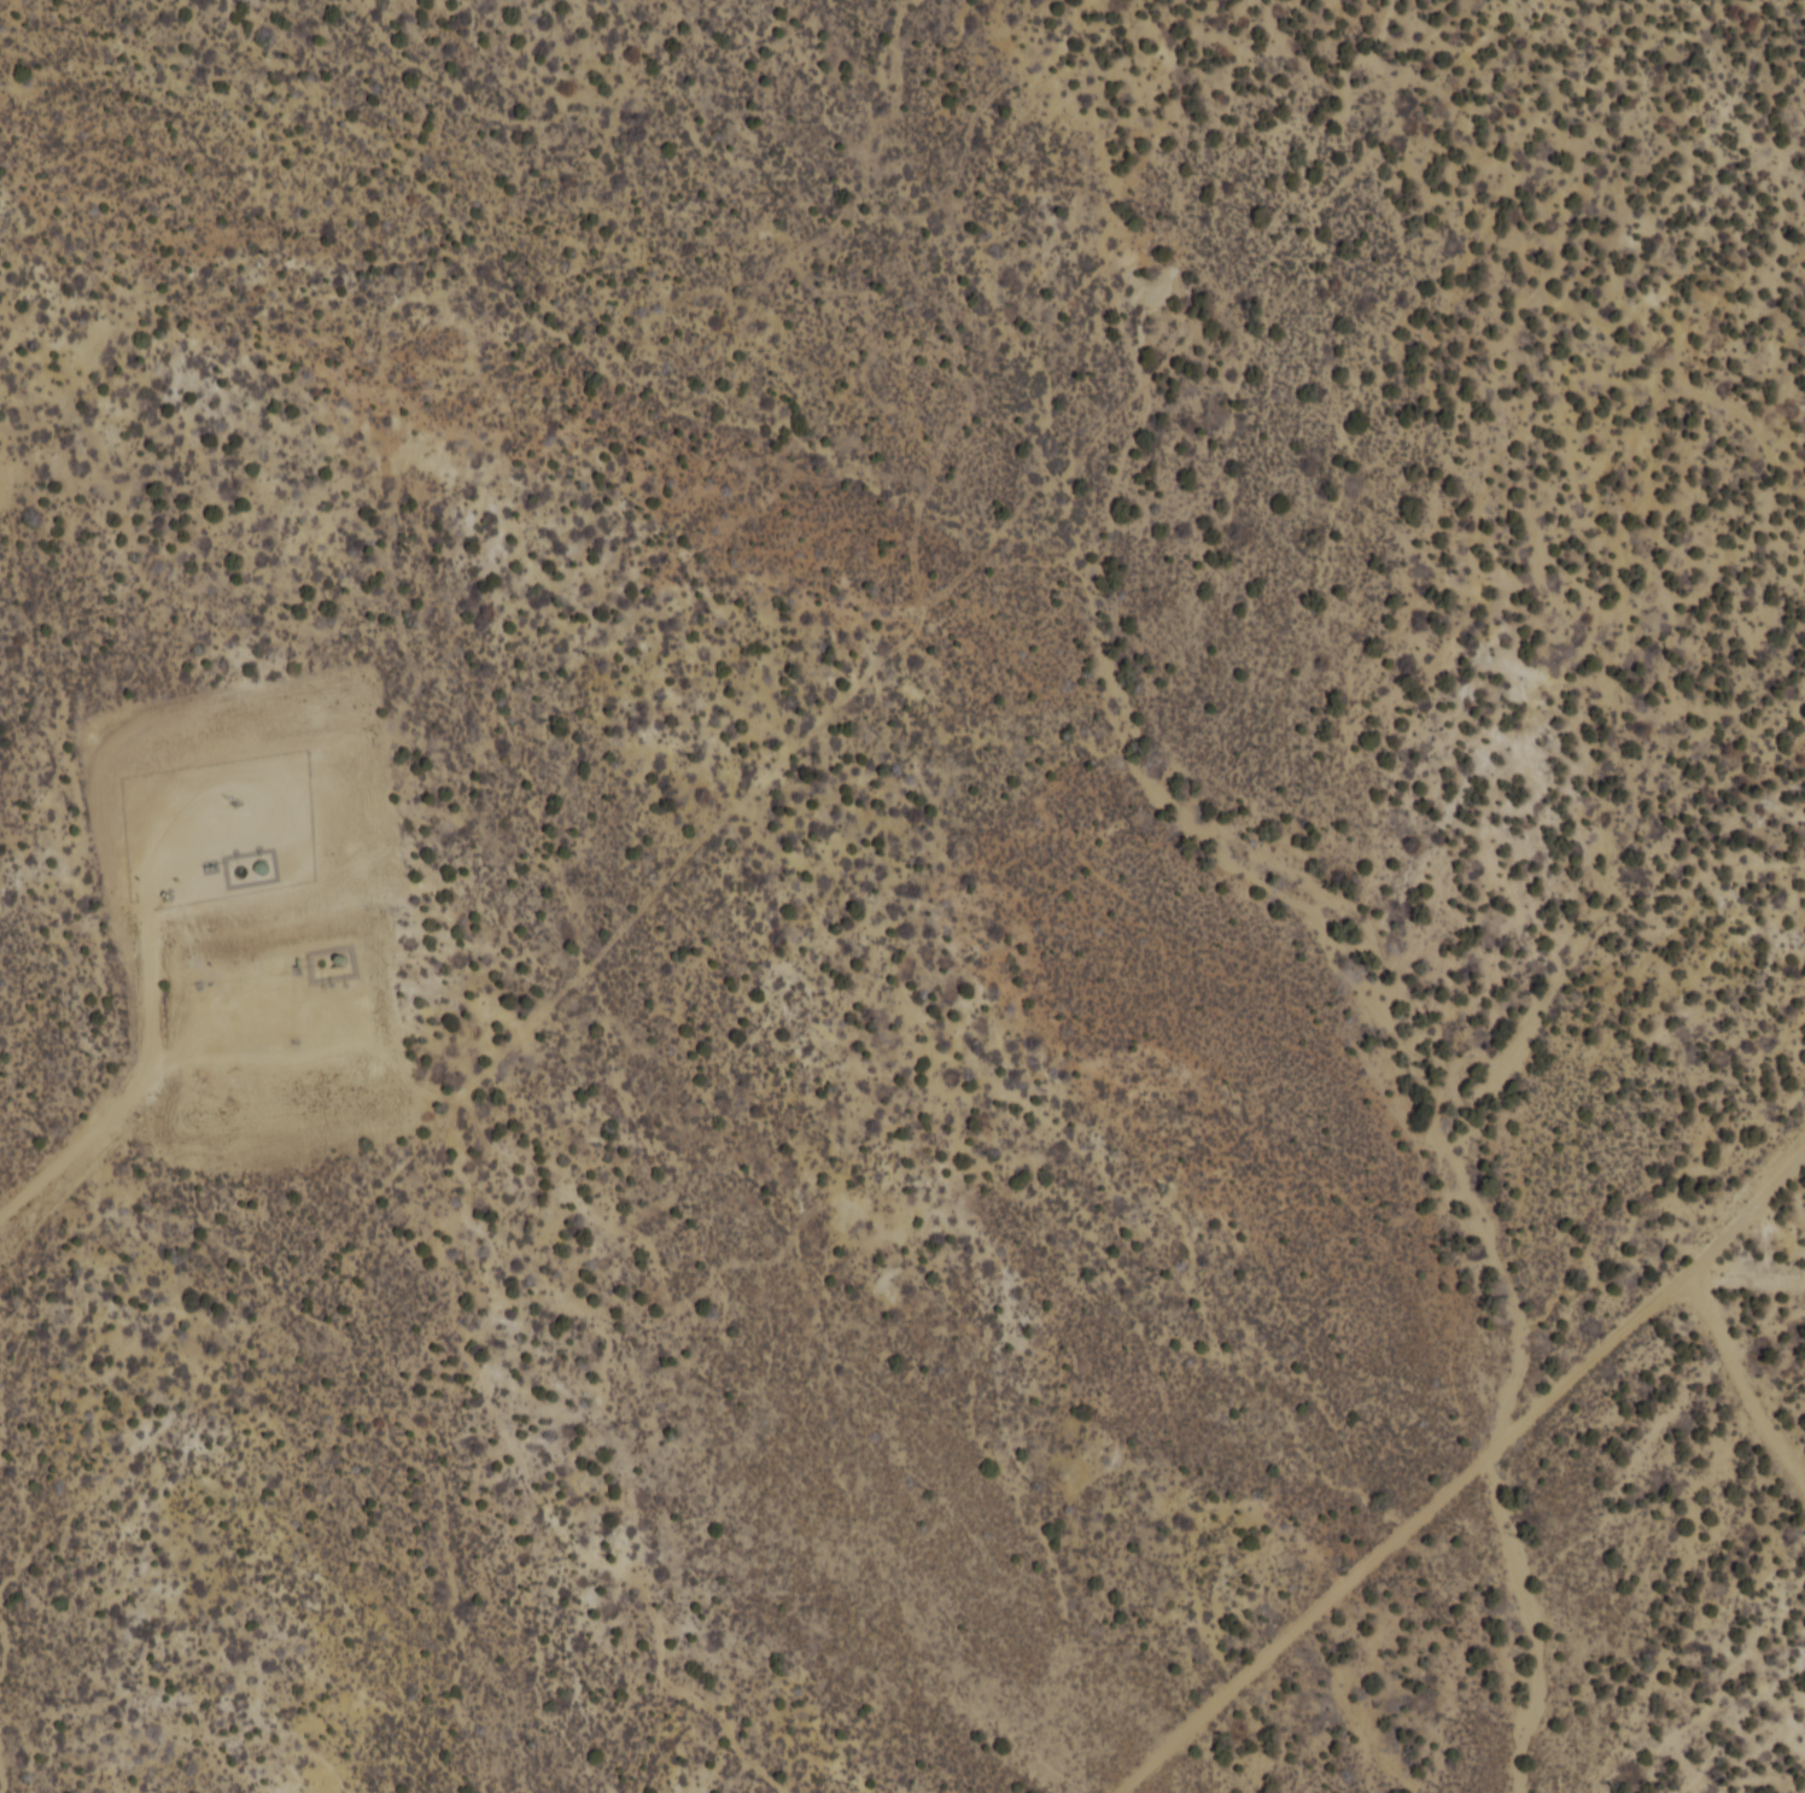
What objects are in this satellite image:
road: (1591, 1583)

